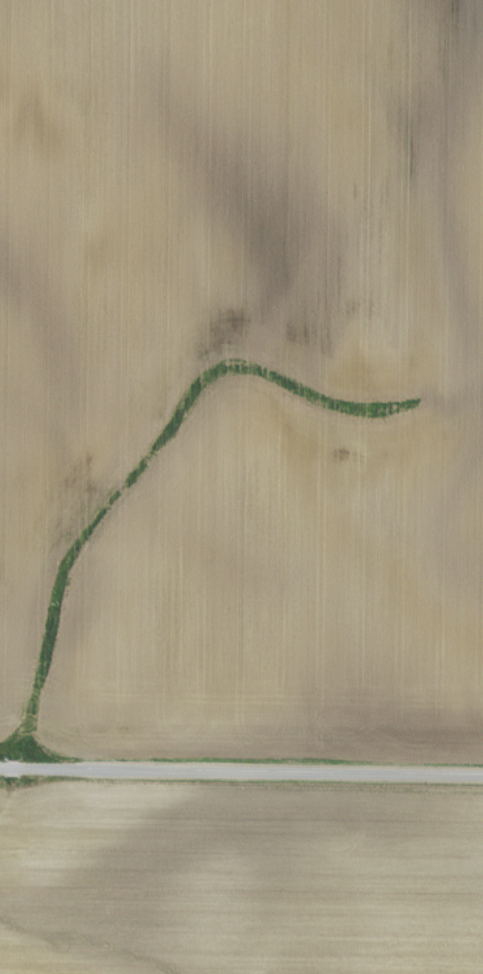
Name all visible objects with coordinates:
road: (241, 770)

